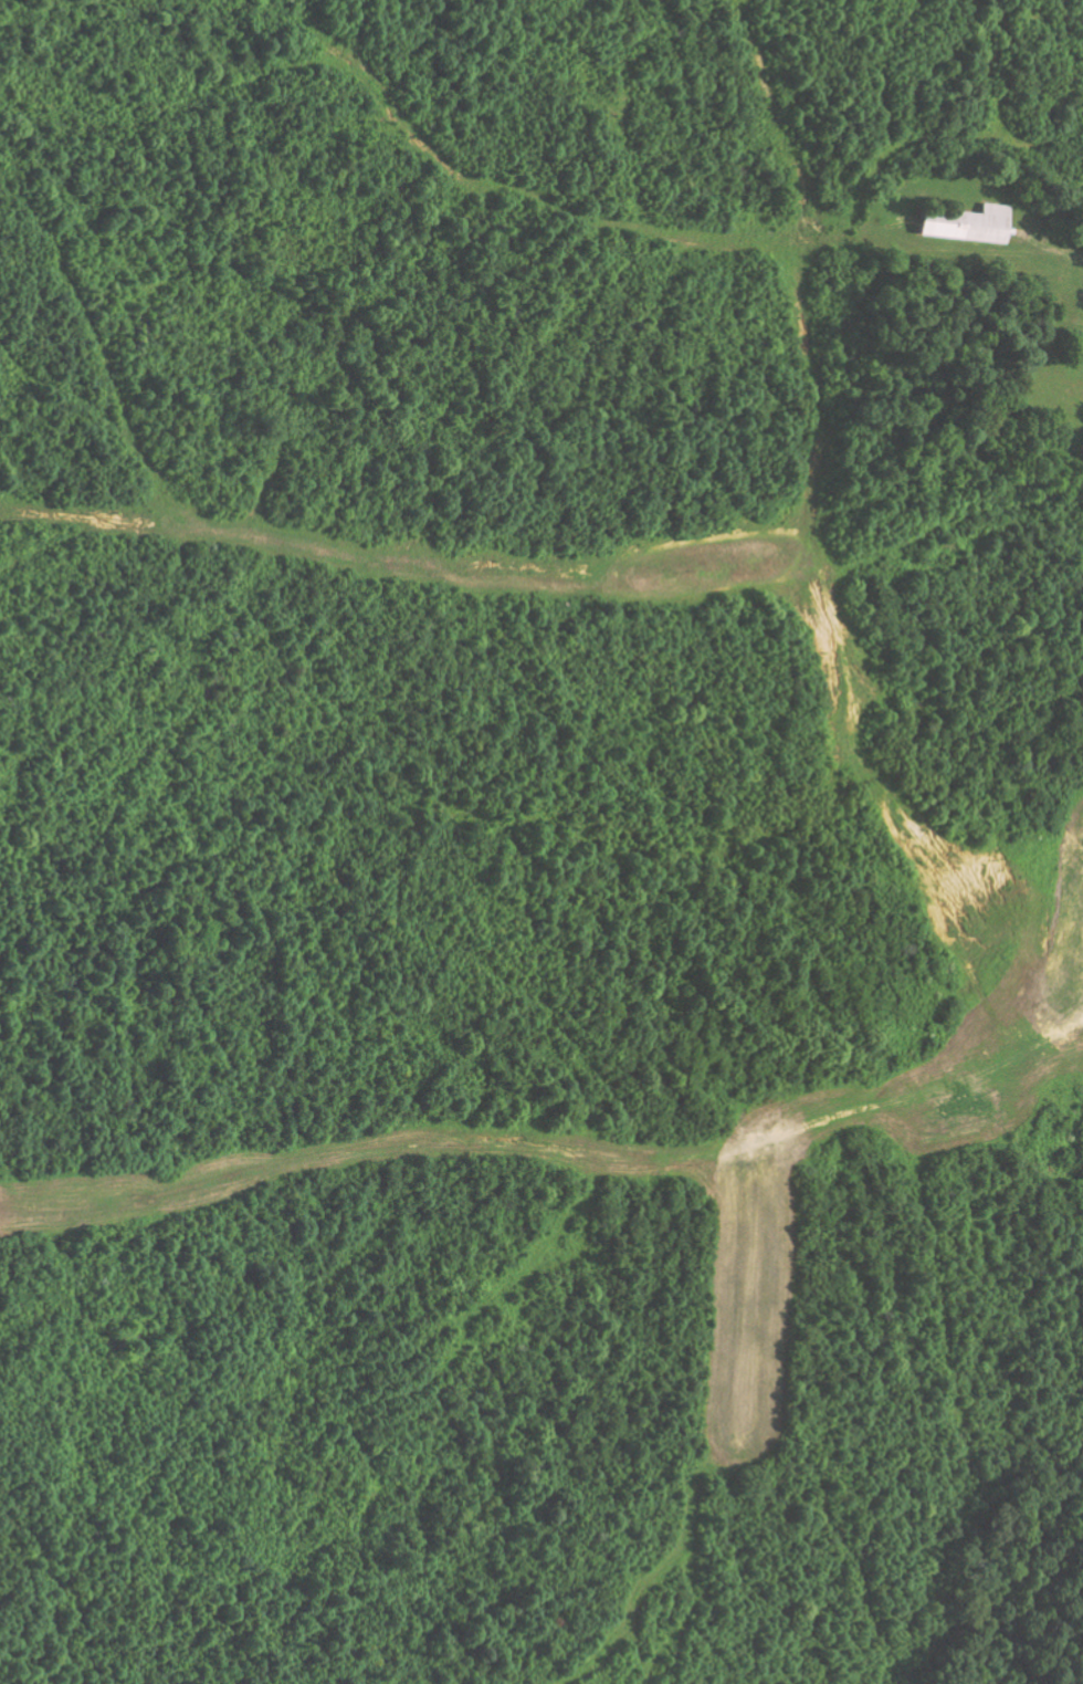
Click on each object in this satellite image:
building: (966, 223)

